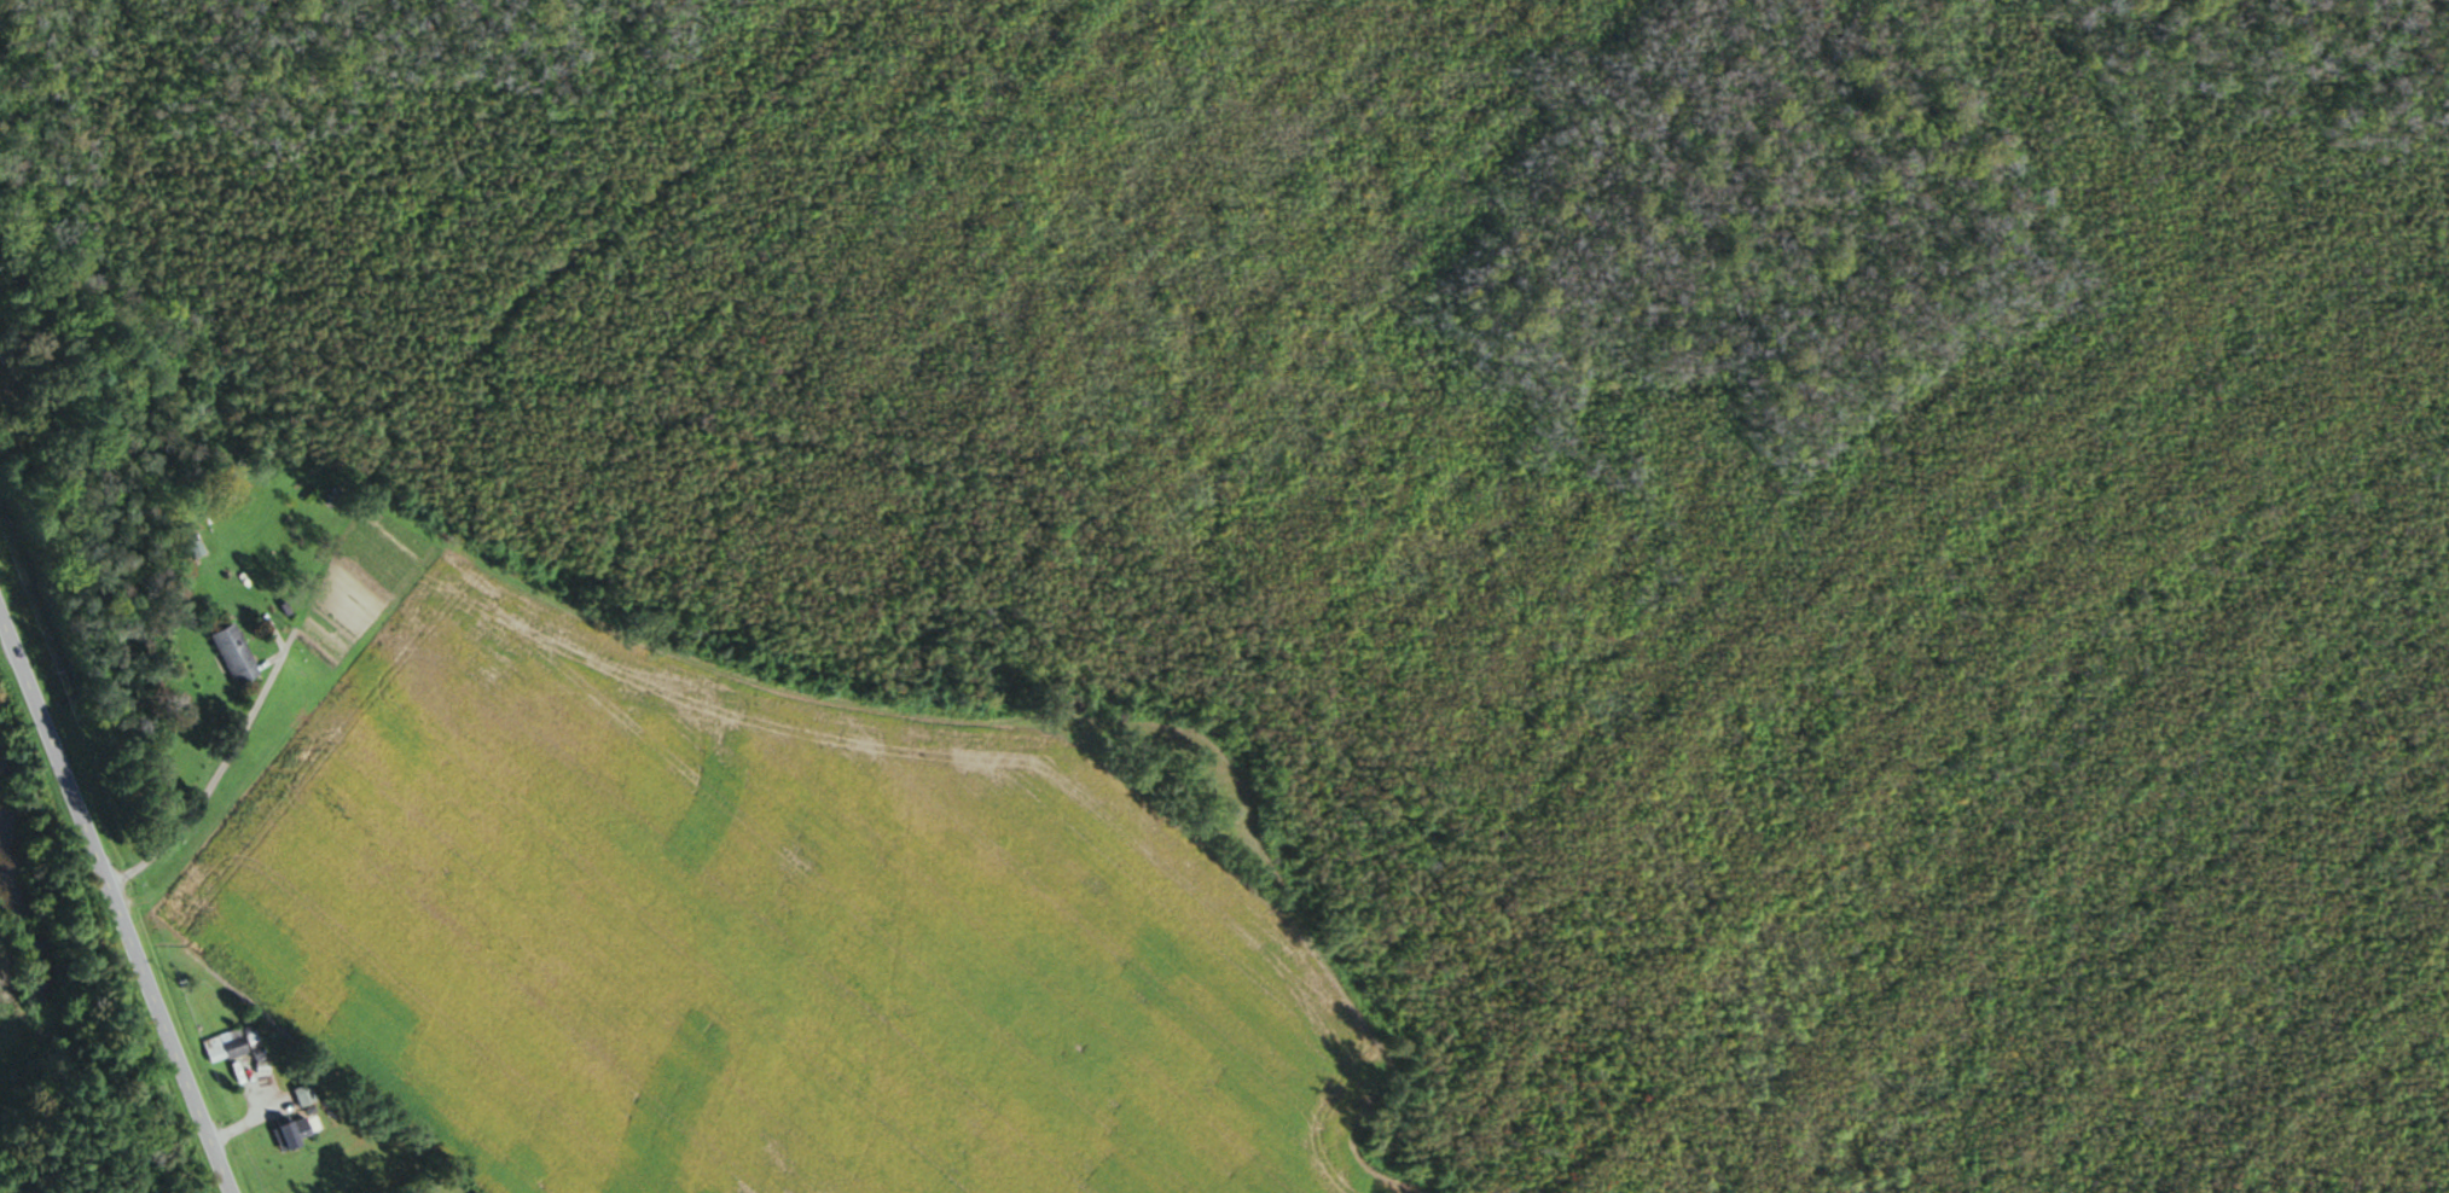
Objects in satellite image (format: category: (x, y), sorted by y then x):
building: (0, 407)
building: (237, 656)
road: (196, 804)
road: (115, 906)
building: (228, 1046)
building: (306, 1095)
building: (295, 1134)

